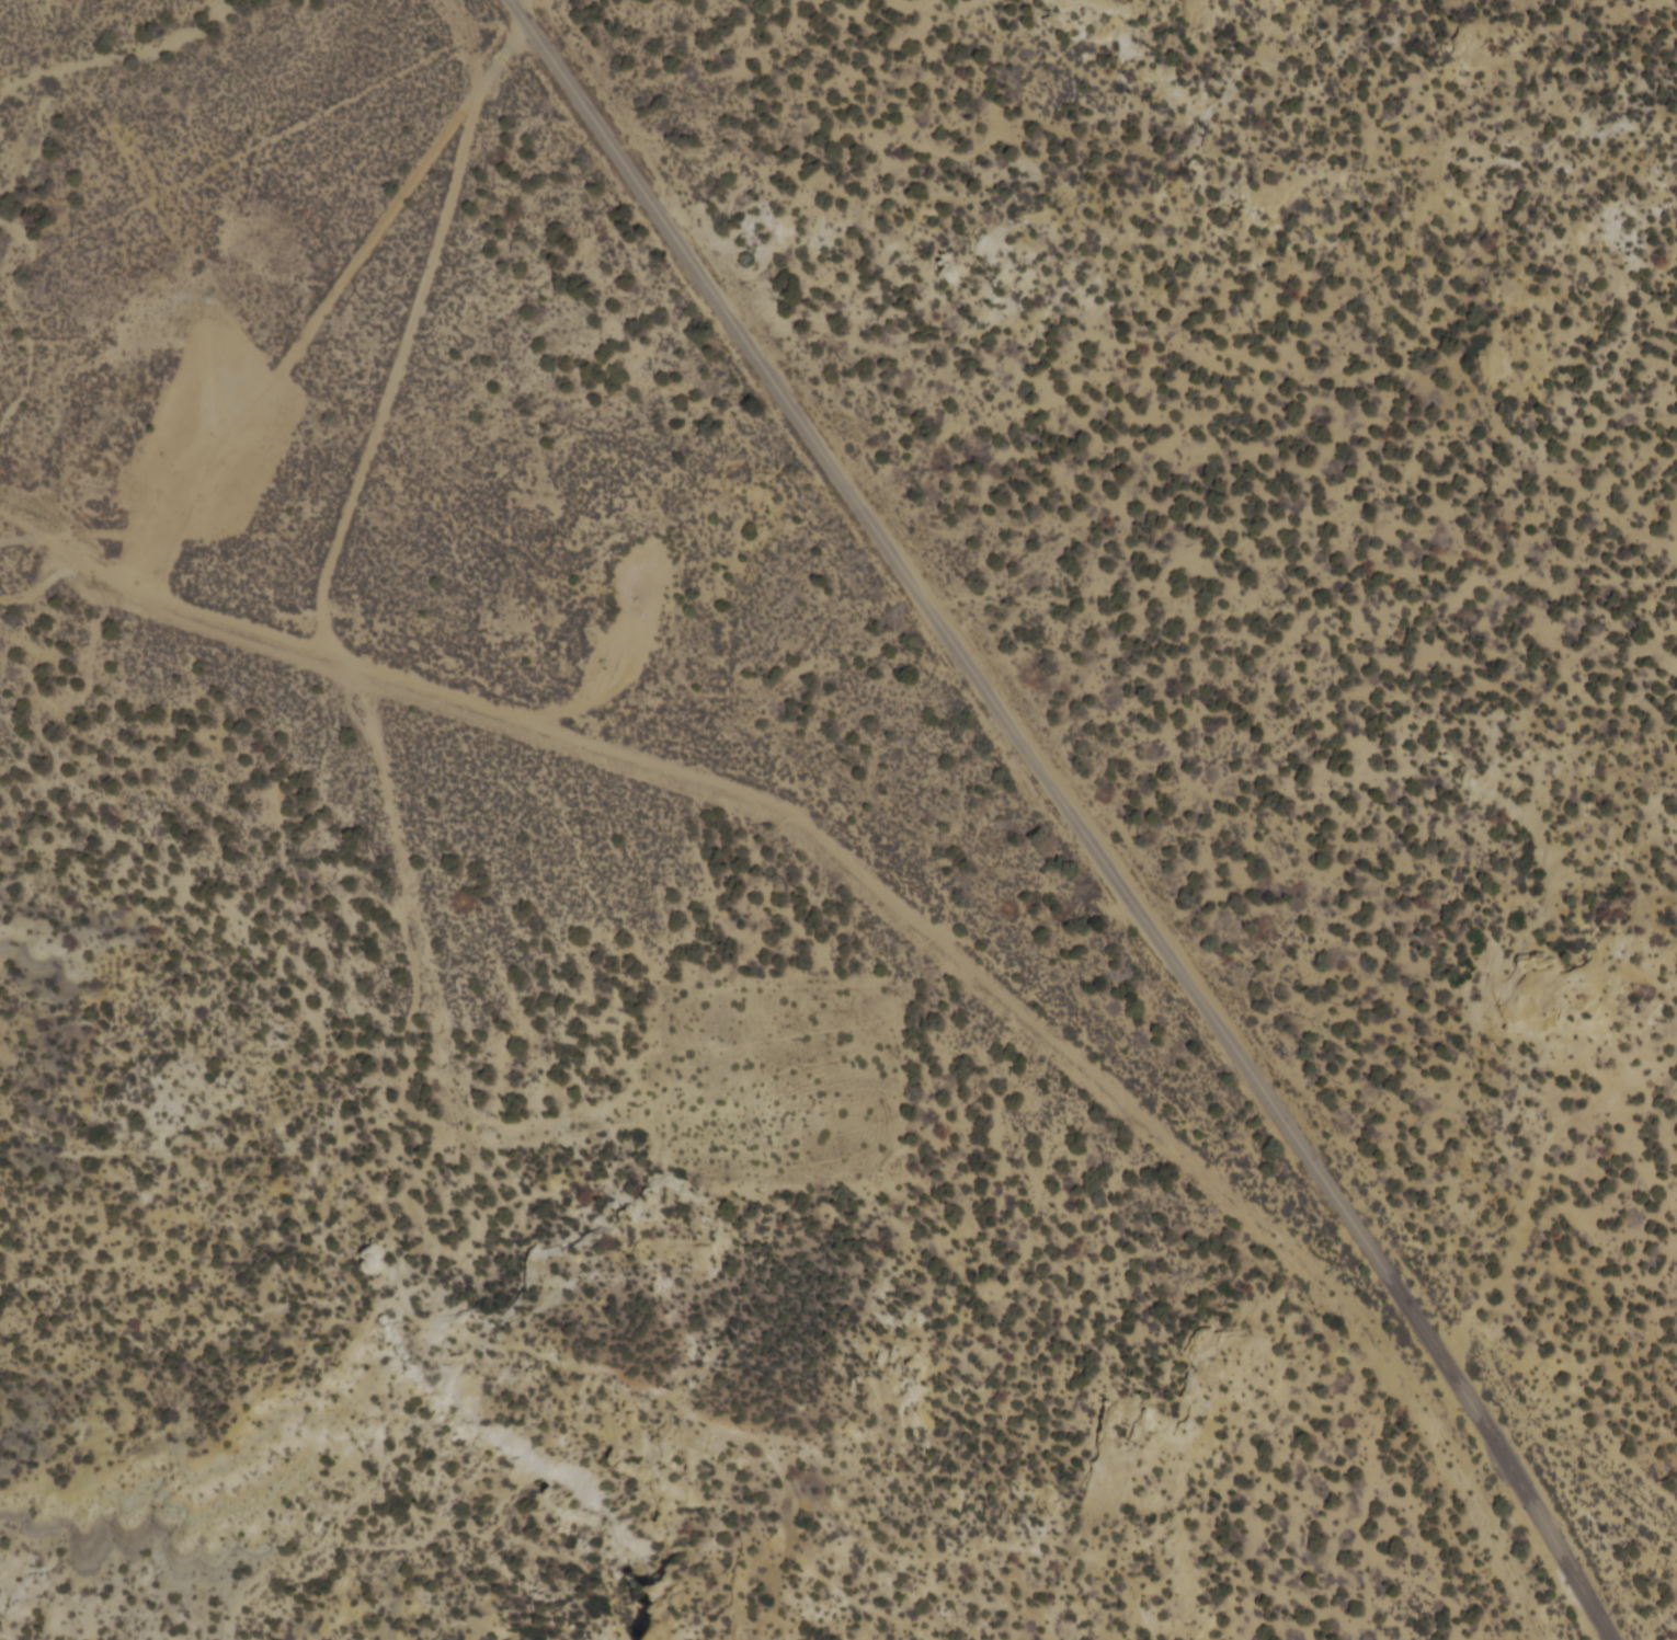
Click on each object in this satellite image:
road: (532, 8)
river: (115, 66)
river: (11, 320)
road: (409, 333)
road: (305, 339)
road: (24, 509)
road: (350, 661)
road: (1080, 813)

